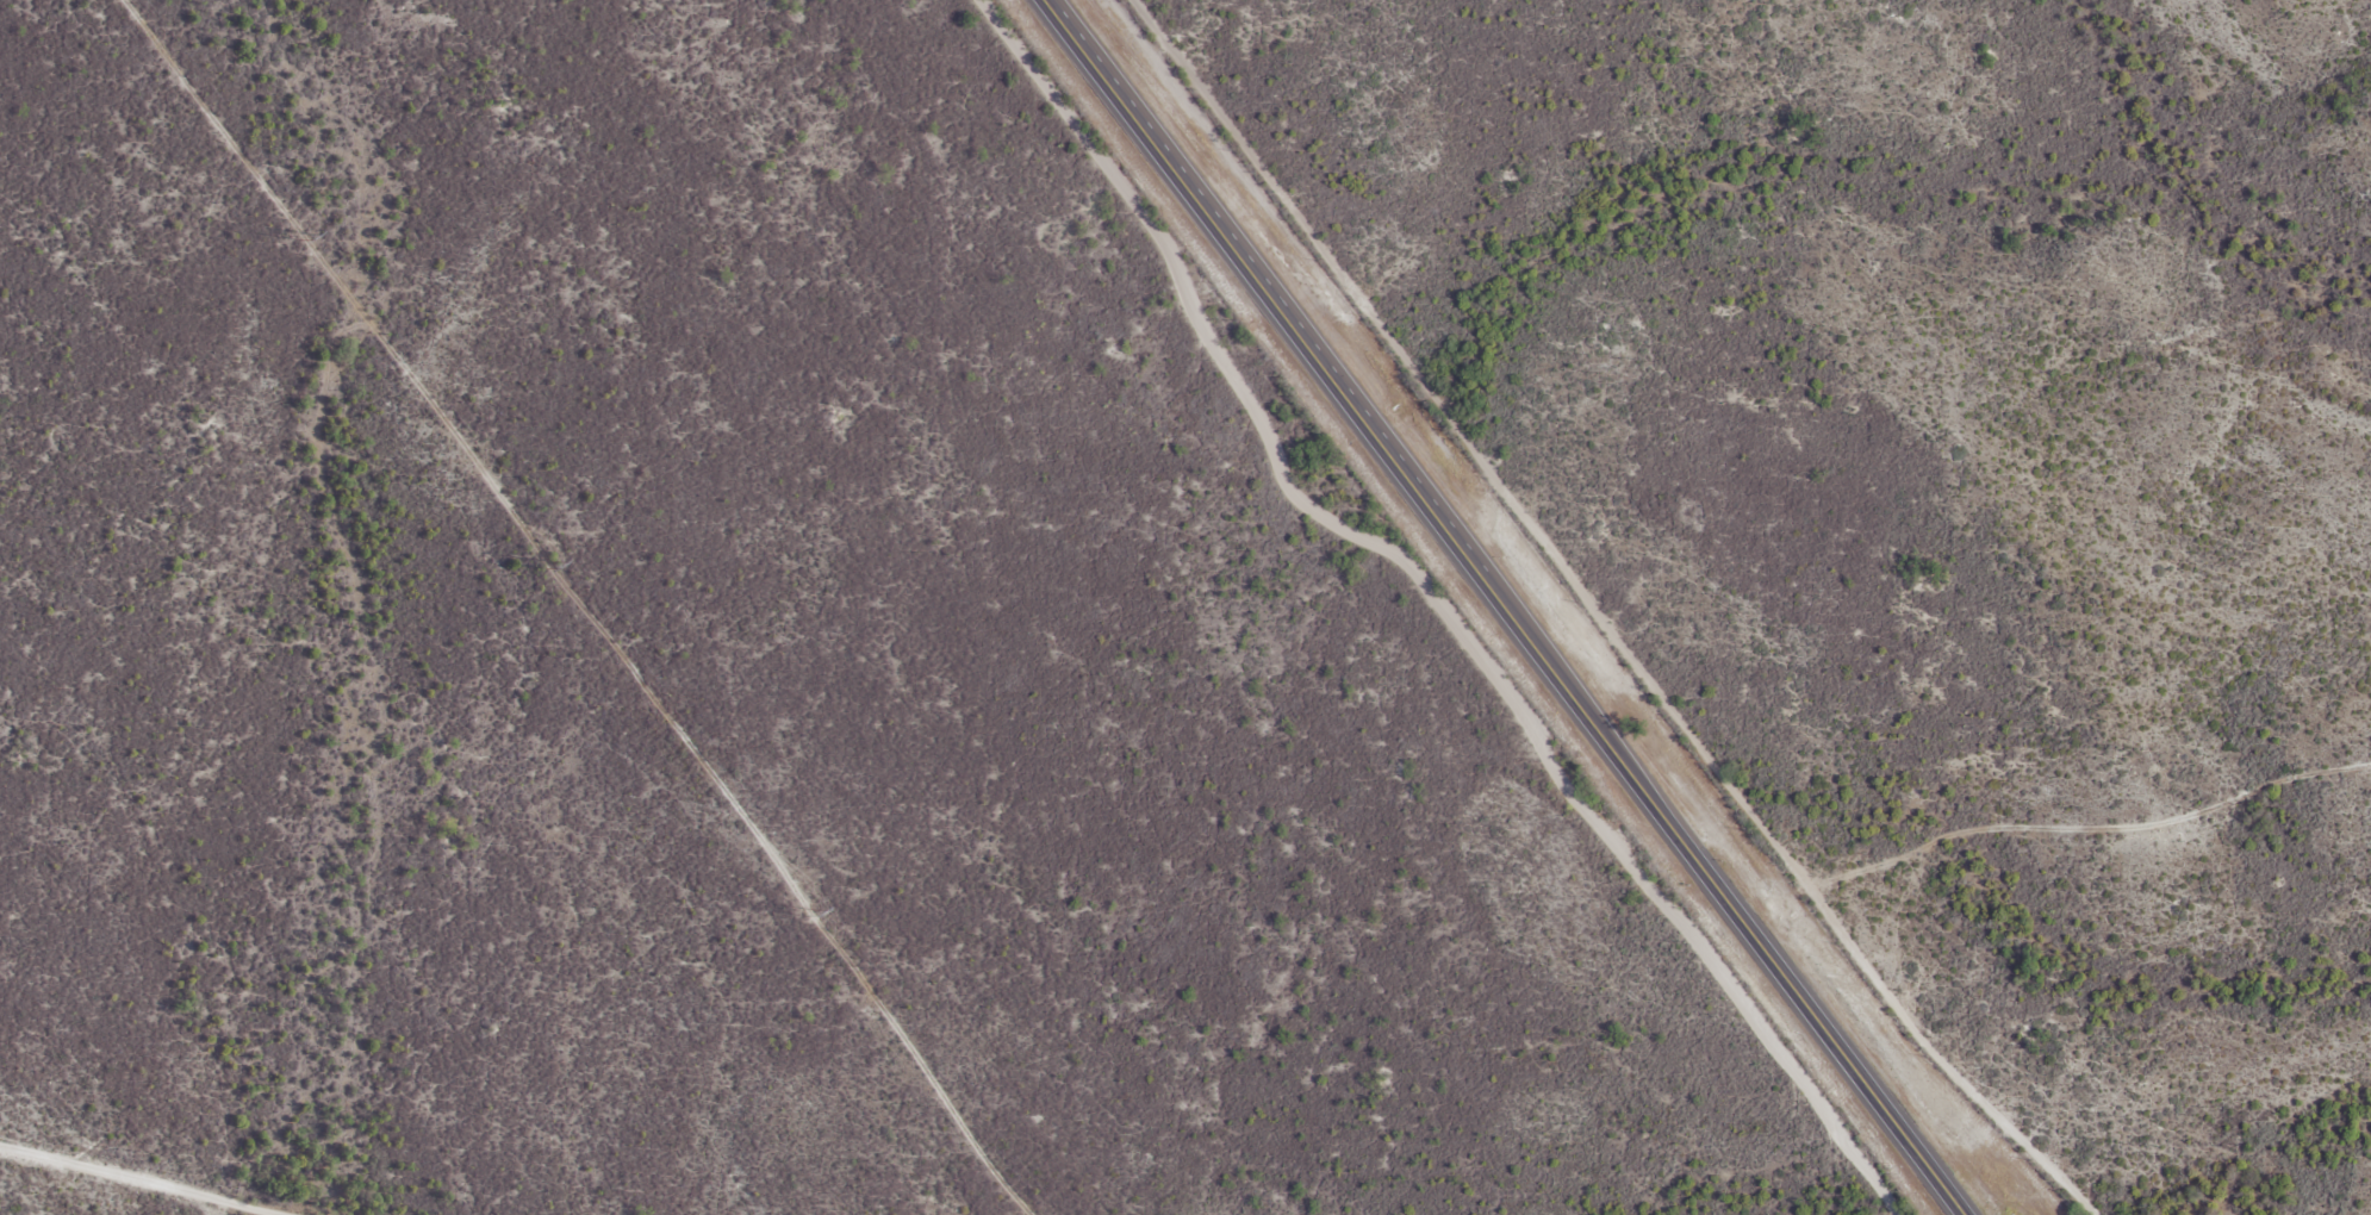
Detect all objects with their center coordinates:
power tower: (305, 238)
power tower: (550, 567)
road: (1510, 606)
road: (2053, 829)
power tower: (811, 916)
road: (150, 1174)

